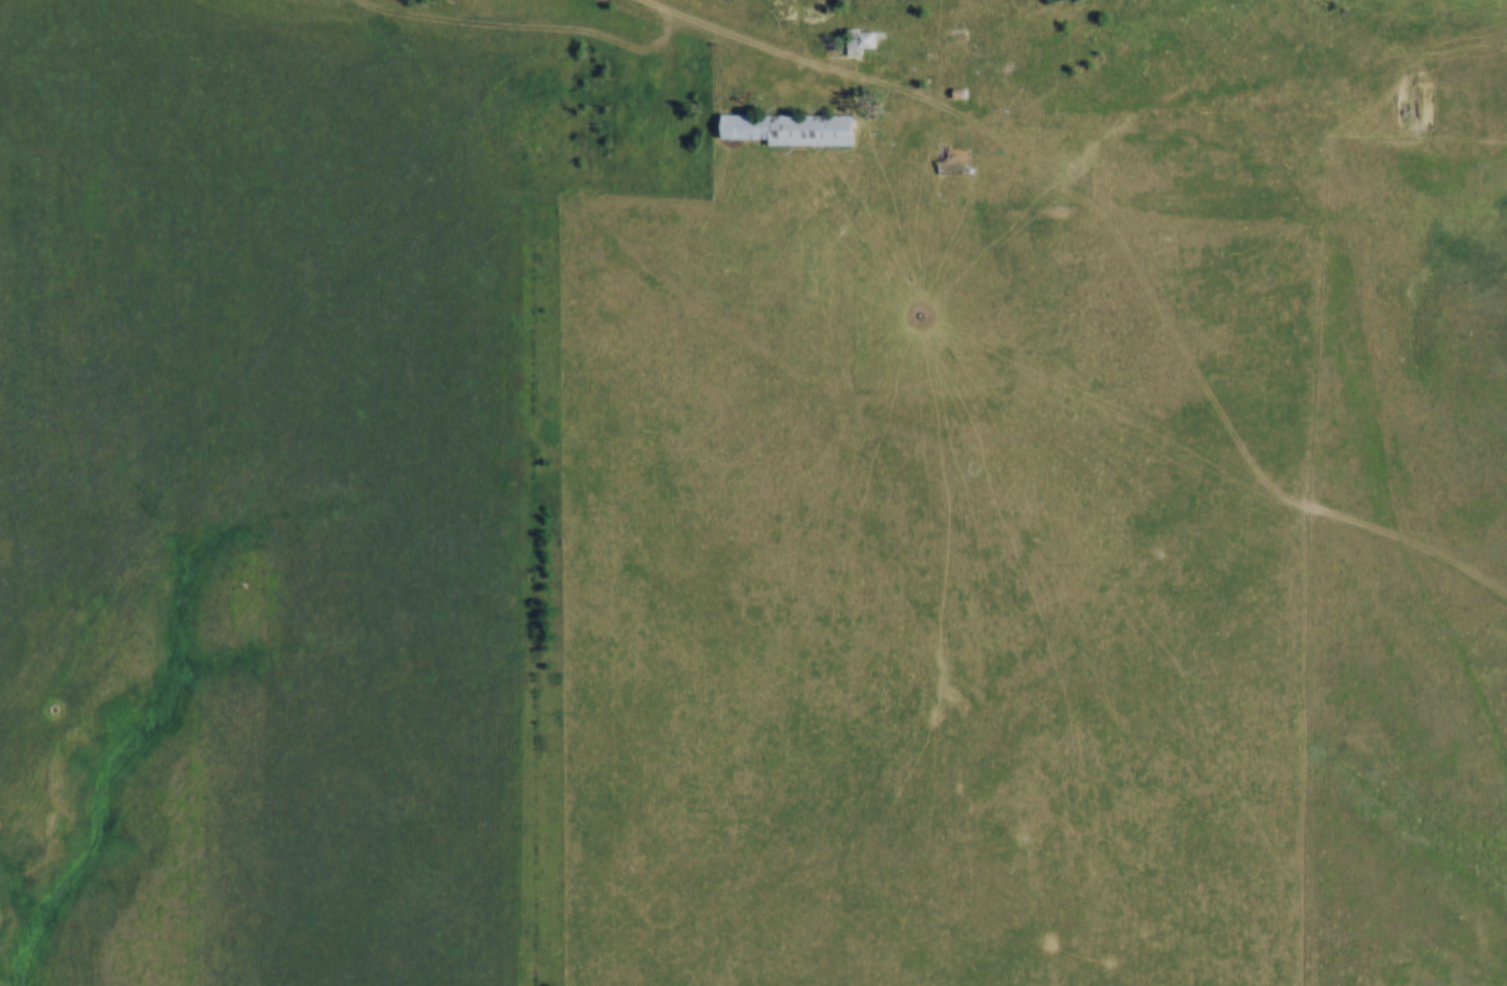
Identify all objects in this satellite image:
building: (859, 41)
road: (778, 52)
building: (965, 92)
building: (794, 127)
building: (955, 159)
road: (1343, 417)

